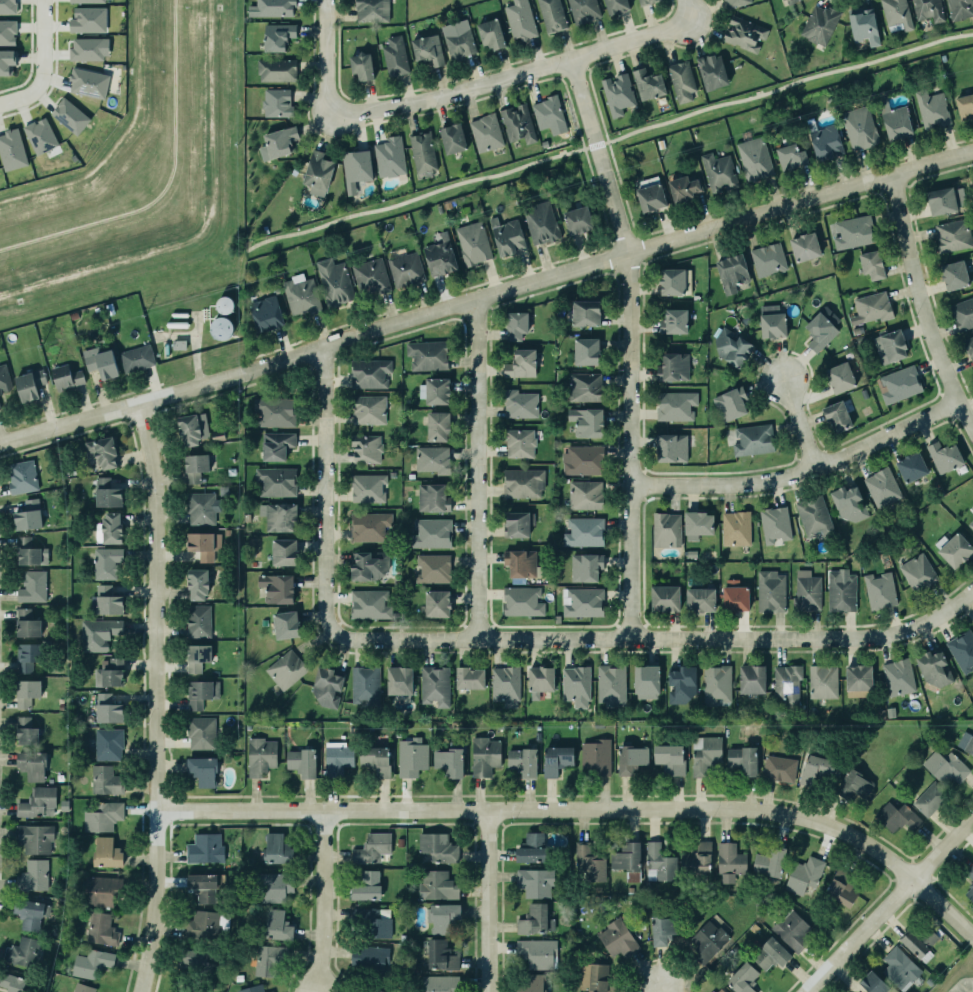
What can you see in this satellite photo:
building: (90, 1)
building: (643, 2)
building: (733, 2)
building: (788, 2)
building: (7, 6)
building: (616, 6)
building: (271, 7)
building: (926, 9)
building: (958, 9)
building: (370, 10)
building: (583, 10)
road: (688, 13)
building: (895, 13)
building: (550, 15)
building: (88, 20)
building: (520, 20)
building: (818, 24)
building: (864, 27)
building: (7, 29)
building: (489, 32)
building: (745, 34)
building: (276, 35)
road: (43, 41)
building: (457, 42)
road: (630, 44)
building: (87, 48)
building: (426, 48)
building: (395, 57)
road: (327, 58)
building: (7, 63)
building: (360, 65)
building: (276, 70)
building: (712, 72)
road: (560, 76)
building: (88, 81)
building: (682, 81)
road: (788, 83)
building: (648, 84)
park: (787, 87)
building: (618, 94)
road: (21, 95)
road: (449, 95)
building: (276, 102)
building: (965, 105)
building: (932, 109)
road: (571, 112)
building: (549, 115)
building: (70, 116)
building: (895, 120)
building: (518, 123)
building: (860, 128)
building: (484, 131)
building: (40, 136)
building: (452, 139)
building: (824, 140)
building: (278, 143)
road: (594, 144)
building: (12, 150)
building: (422, 153)
building: (388, 156)
road: (598, 156)
building: (791, 157)
building: (754, 159)
building: (356, 169)
building: (717, 171)
building: (318, 173)
building: (682, 188)
road: (595, 193)
building: (650, 196)
road: (412, 197)
park: (412, 199)
building: (946, 200)
building: (578, 220)
building: (540, 221)
building: (852, 231)
building: (952, 235)
building: (507, 236)
road: (608, 241)
building: (472, 244)
building: (805, 247)
building: (439, 256)
building: (766, 259)
building: (870, 264)
building: (404, 268)
building: (731, 271)
building: (955, 275)
building: (370, 277)
building: (332, 280)
building: (674, 281)
building: (300, 294)
road: (486, 295)
building: (873, 308)
road: (920, 309)
building: (264, 311)
building: (584, 312)
building: (963, 314)
building: (672, 321)
building: (771, 321)
building: (515, 324)
building: (222, 328)
building: (820, 332)
building: (179, 344)
building: (888, 345)
building: (730, 347)
building: (969, 349)
building: (585, 350)
building: (426, 354)
building: (137, 358)
building: (101, 362)
building: (520, 364)
building: (673, 367)
building: (368, 373)
building: (65, 376)
building: (838, 376)
building: (4, 379)
building: (898, 384)
building: (29, 385)
building: (584, 387)
building: (435, 391)
building: (520, 404)
building: (730, 404)
building: (0, 405)
building: (674, 406)
building: (367, 409)
building: (274, 412)
building: (837, 416)
building: (585, 422)
road: (799, 423)
building: (436, 425)
building: (193, 429)
building: (751, 439)
building: (520, 443)
building: (276, 446)
road: (629, 446)
building: (672, 448)
building: (366, 449)
building: (103, 452)
building: (944, 457)
building: (431, 459)
building: (583, 460)
building: (195, 467)
building: (912, 467)
road: (475, 469)
road: (799, 473)
building: (21, 476)
building: (275, 481)
building: (522, 483)
building: (880, 486)
building: (366, 487)
road: (330, 491)
building: (107, 493)
building: (585, 495)
building: (433, 498)
building: (848, 504)
building: (200, 507)
building: (27, 514)
building: (812, 516)
building: (279, 517)
building: (518, 523)
building: (773, 523)
building: (971, 524)
building: (698, 525)
building: (368, 526)
building: (110, 527)
building: (736, 528)
building: (665, 529)
building: (582, 531)
building: (431, 533)
building: (203, 544)
building: (25, 550)
building: (956, 550)
building: (284, 552)
building: (104, 562)
building: (519, 562)
building: (367, 564)
building: (584, 566)
building: (431, 568)
building: (917, 572)
building: (197, 583)
building: (31, 586)
building: (274, 588)
building: (878, 589)
building: (770, 591)
building: (807, 591)
building: (841, 592)
building: (734, 597)
building: (665, 598)
building: (701, 599)
building: (104, 600)
building: (523, 601)
building: (581, 602)
building: (437, 603)
building: (368, 604)
building: (197, 620)
building: (26, 623)
building: (284, 624)
building: (972, 625)
building: (97, 633)
road: (661, 638)
building: (961, 649)
building: (196, 656)
building: (27, 657)
building: (931, 667)
building: (286, 669)
building: (108, 672)
building: (468, 677)
building: (897, 677)
building: (645, 678)
building: (859, 678)
building: (751, 679)
building: (398, 680)
building: (539, 680)
building: (822, 681)
building: (680, 683)
building: (610, 684)
building: (365, 685)
building: (434, 685)
building: (504, 685)
building: (575, 685)
building: (717, 685)
building: (787, 685)
building: (325, 686)
building: (25, 691)
building: (199, 692)
road: (160, 695)
building: (106, 708)
building: (26, 731)
building: (200, 731)
building: (536, 735)
building: (965, 742)
building: (107, 743)
building: (705, 754)
building: (259, 755)
building: (484, 756)
building: (596, 756)
building: (410, 758)
building: (630, 758)
building: (338, 759)
building: (450, 759)
building: (555, 759)
building: (669, 759)
building: (742, 759)
building: (376, 760)
building: (300, 761)
building: (521, 761)
building: (30, 764)
building: (945, 767)
building: (779, 768)
building: (202, 770)
building: (814, 770)
building: (106, 781)
building: (855, 785)
building: (929, 798)
building: (38, 802)
road: (589, 806)
building: (103, 817)
building: (898, 817)
building: (35, 838)
building: (436, 846)
building: (204, 848)
building: (373, 848)
building: (532, 848)
building: (277, 849)
building: (105, 852)
building: (696, 857)
building: (628, 860)
building: (729, 861)
building: (769, 861)
building: (589, 863)
building: (658, 863)
building: (969, 871)
building: (803, 874)
building: (32, 875)
building: (535, 882)
building: (436, 885)
building: (204, 886)
building: (365, 886)
building: (275, 887)
building: (841, 888)
building: (100, 891)
building: (969, 892)
road: (329, 899)
road: (493, 899)
road: (889, 904)
building: (27, 913)
building: (441, 917)
building: (536, 920)
building: (374, 922)
building: (278, 925)
building: (205, 926)
building: (100, 928)
building: (665, 929)
building: (790, 930)
building: (616, 938)
building: (708, 941)
building: (21, 951)
building: (537, 953)
building: (771, 954)
building: (440, 955)
building: (266, 958)
building: (369, 958)
building: (195, 960)
building: (90, 962)
building: (900, 969)
building: (743, 978)
building: (12, 983)
building: (440, 983)
building: (533, 983)
building: (872, 983)
building: (84, 988)
building: (251, 988)
building: (186, 989)
building: (373, 990)
building: (719, 990)
building: (267, 991)
building: (271, 991)
road: (659, 991)

